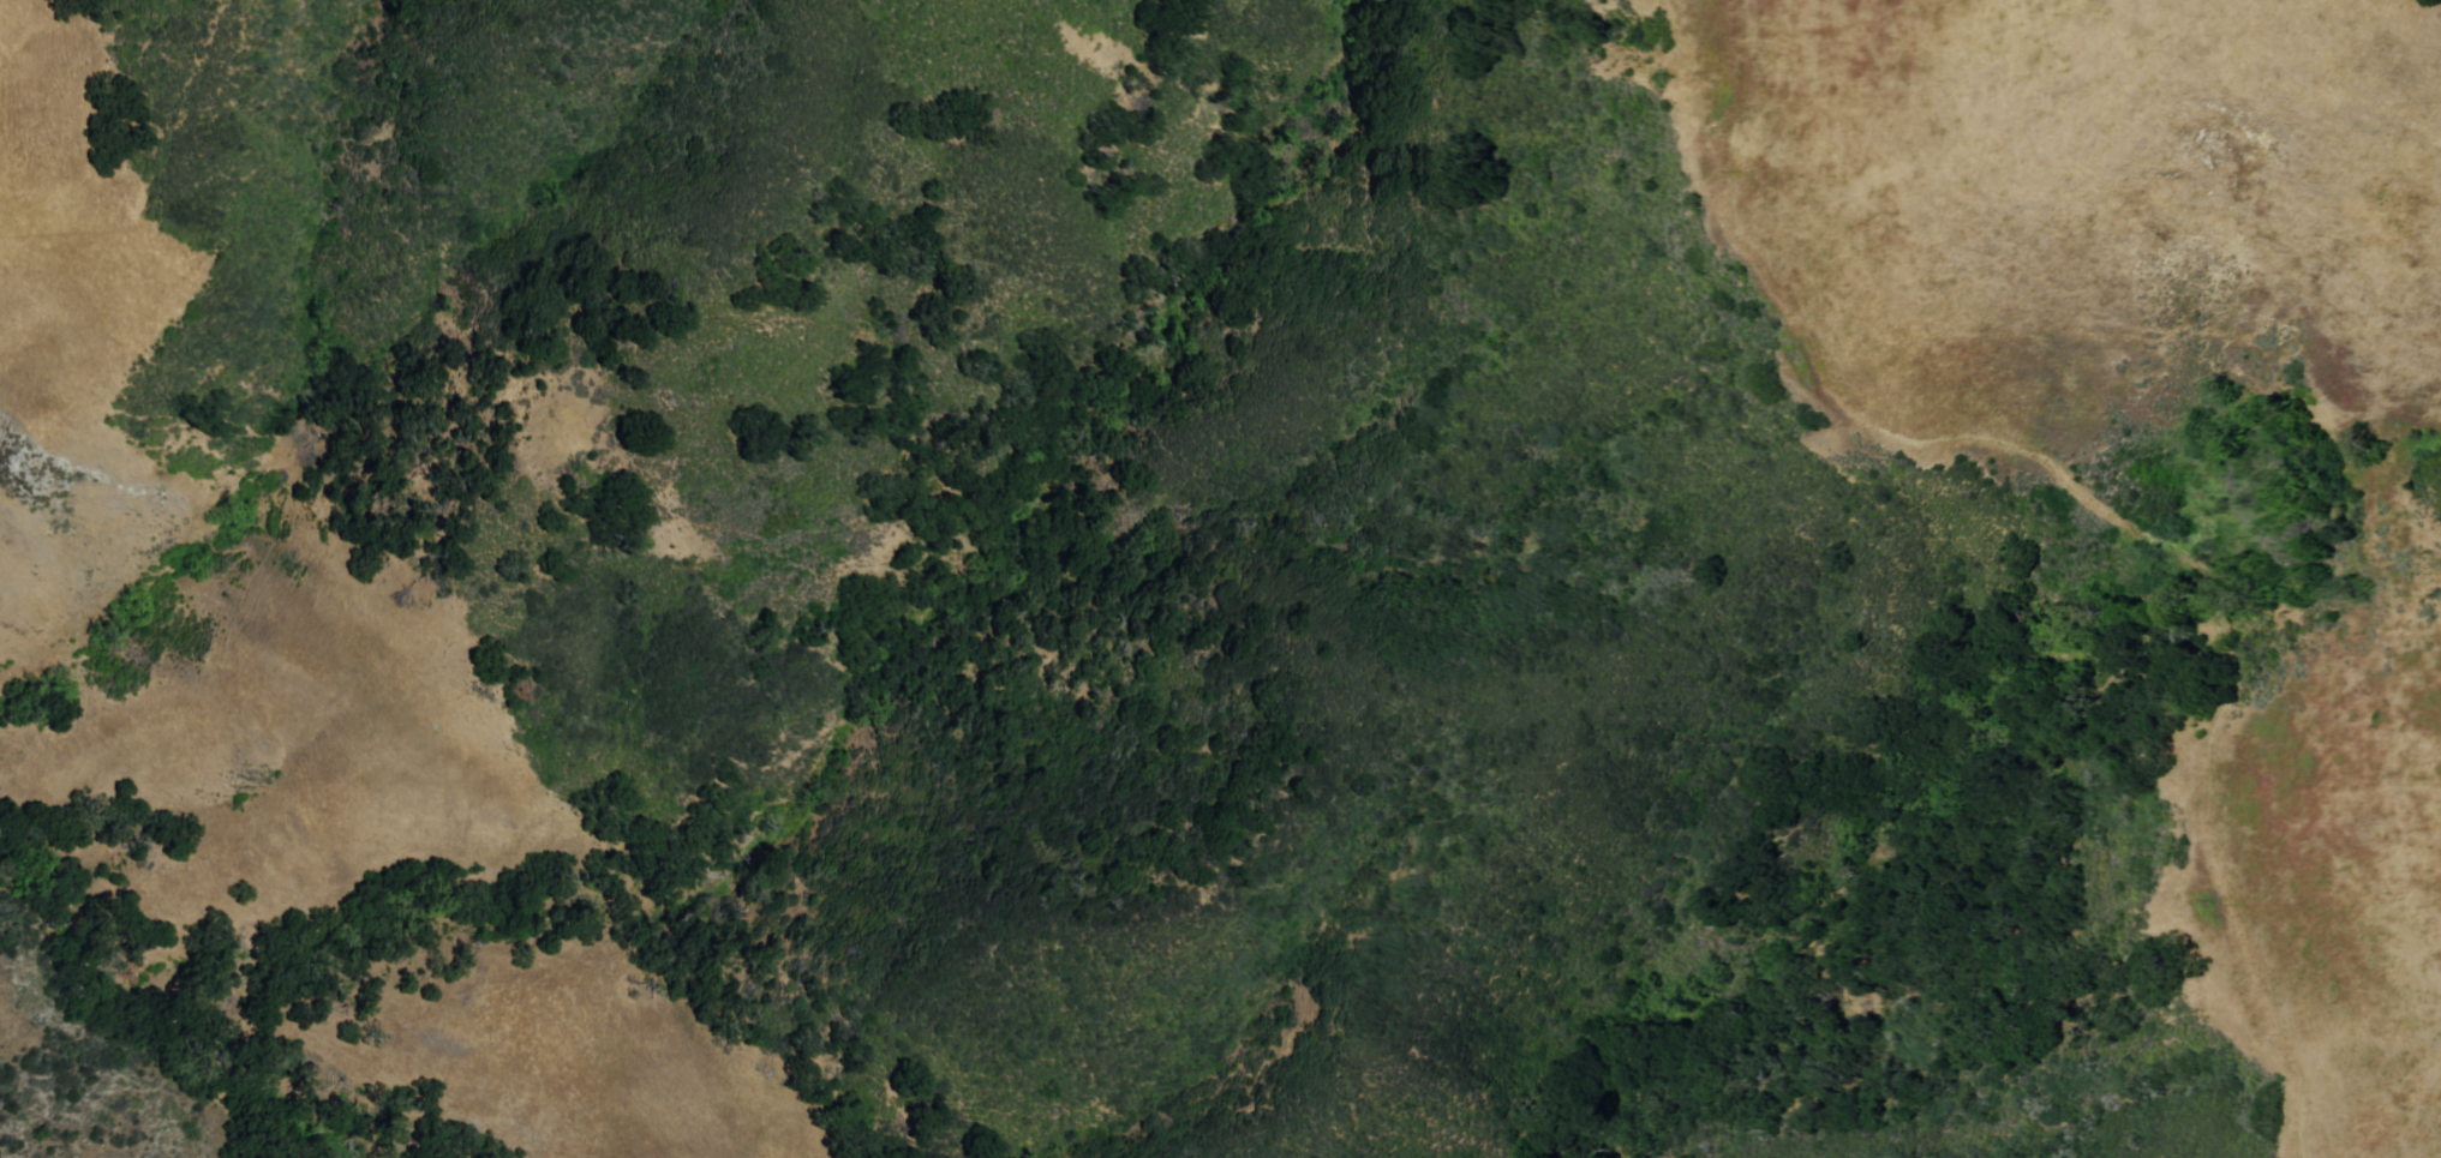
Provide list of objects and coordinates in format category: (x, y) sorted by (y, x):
road: (2100, 503)

